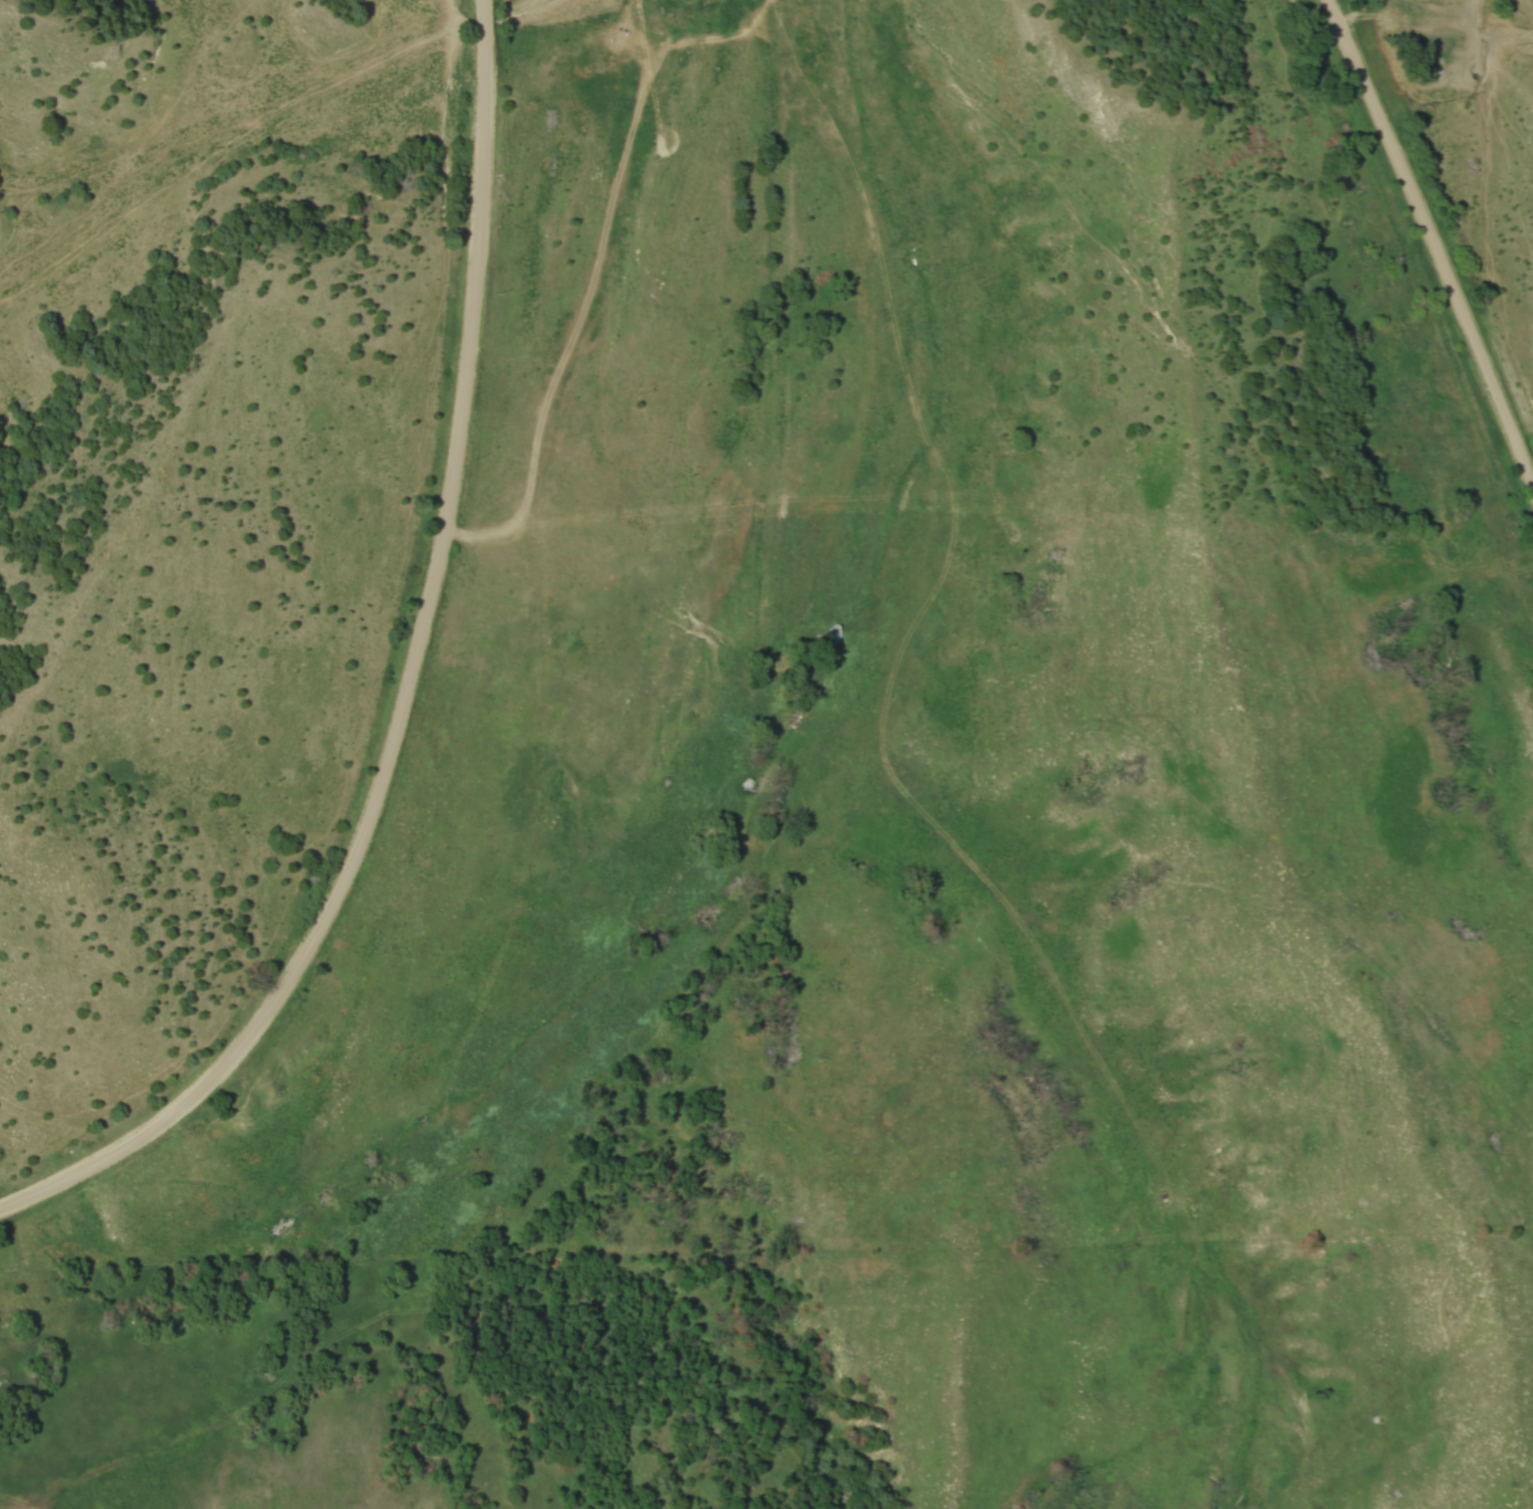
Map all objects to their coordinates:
road: (1433, 241)
road: (403, 685)

